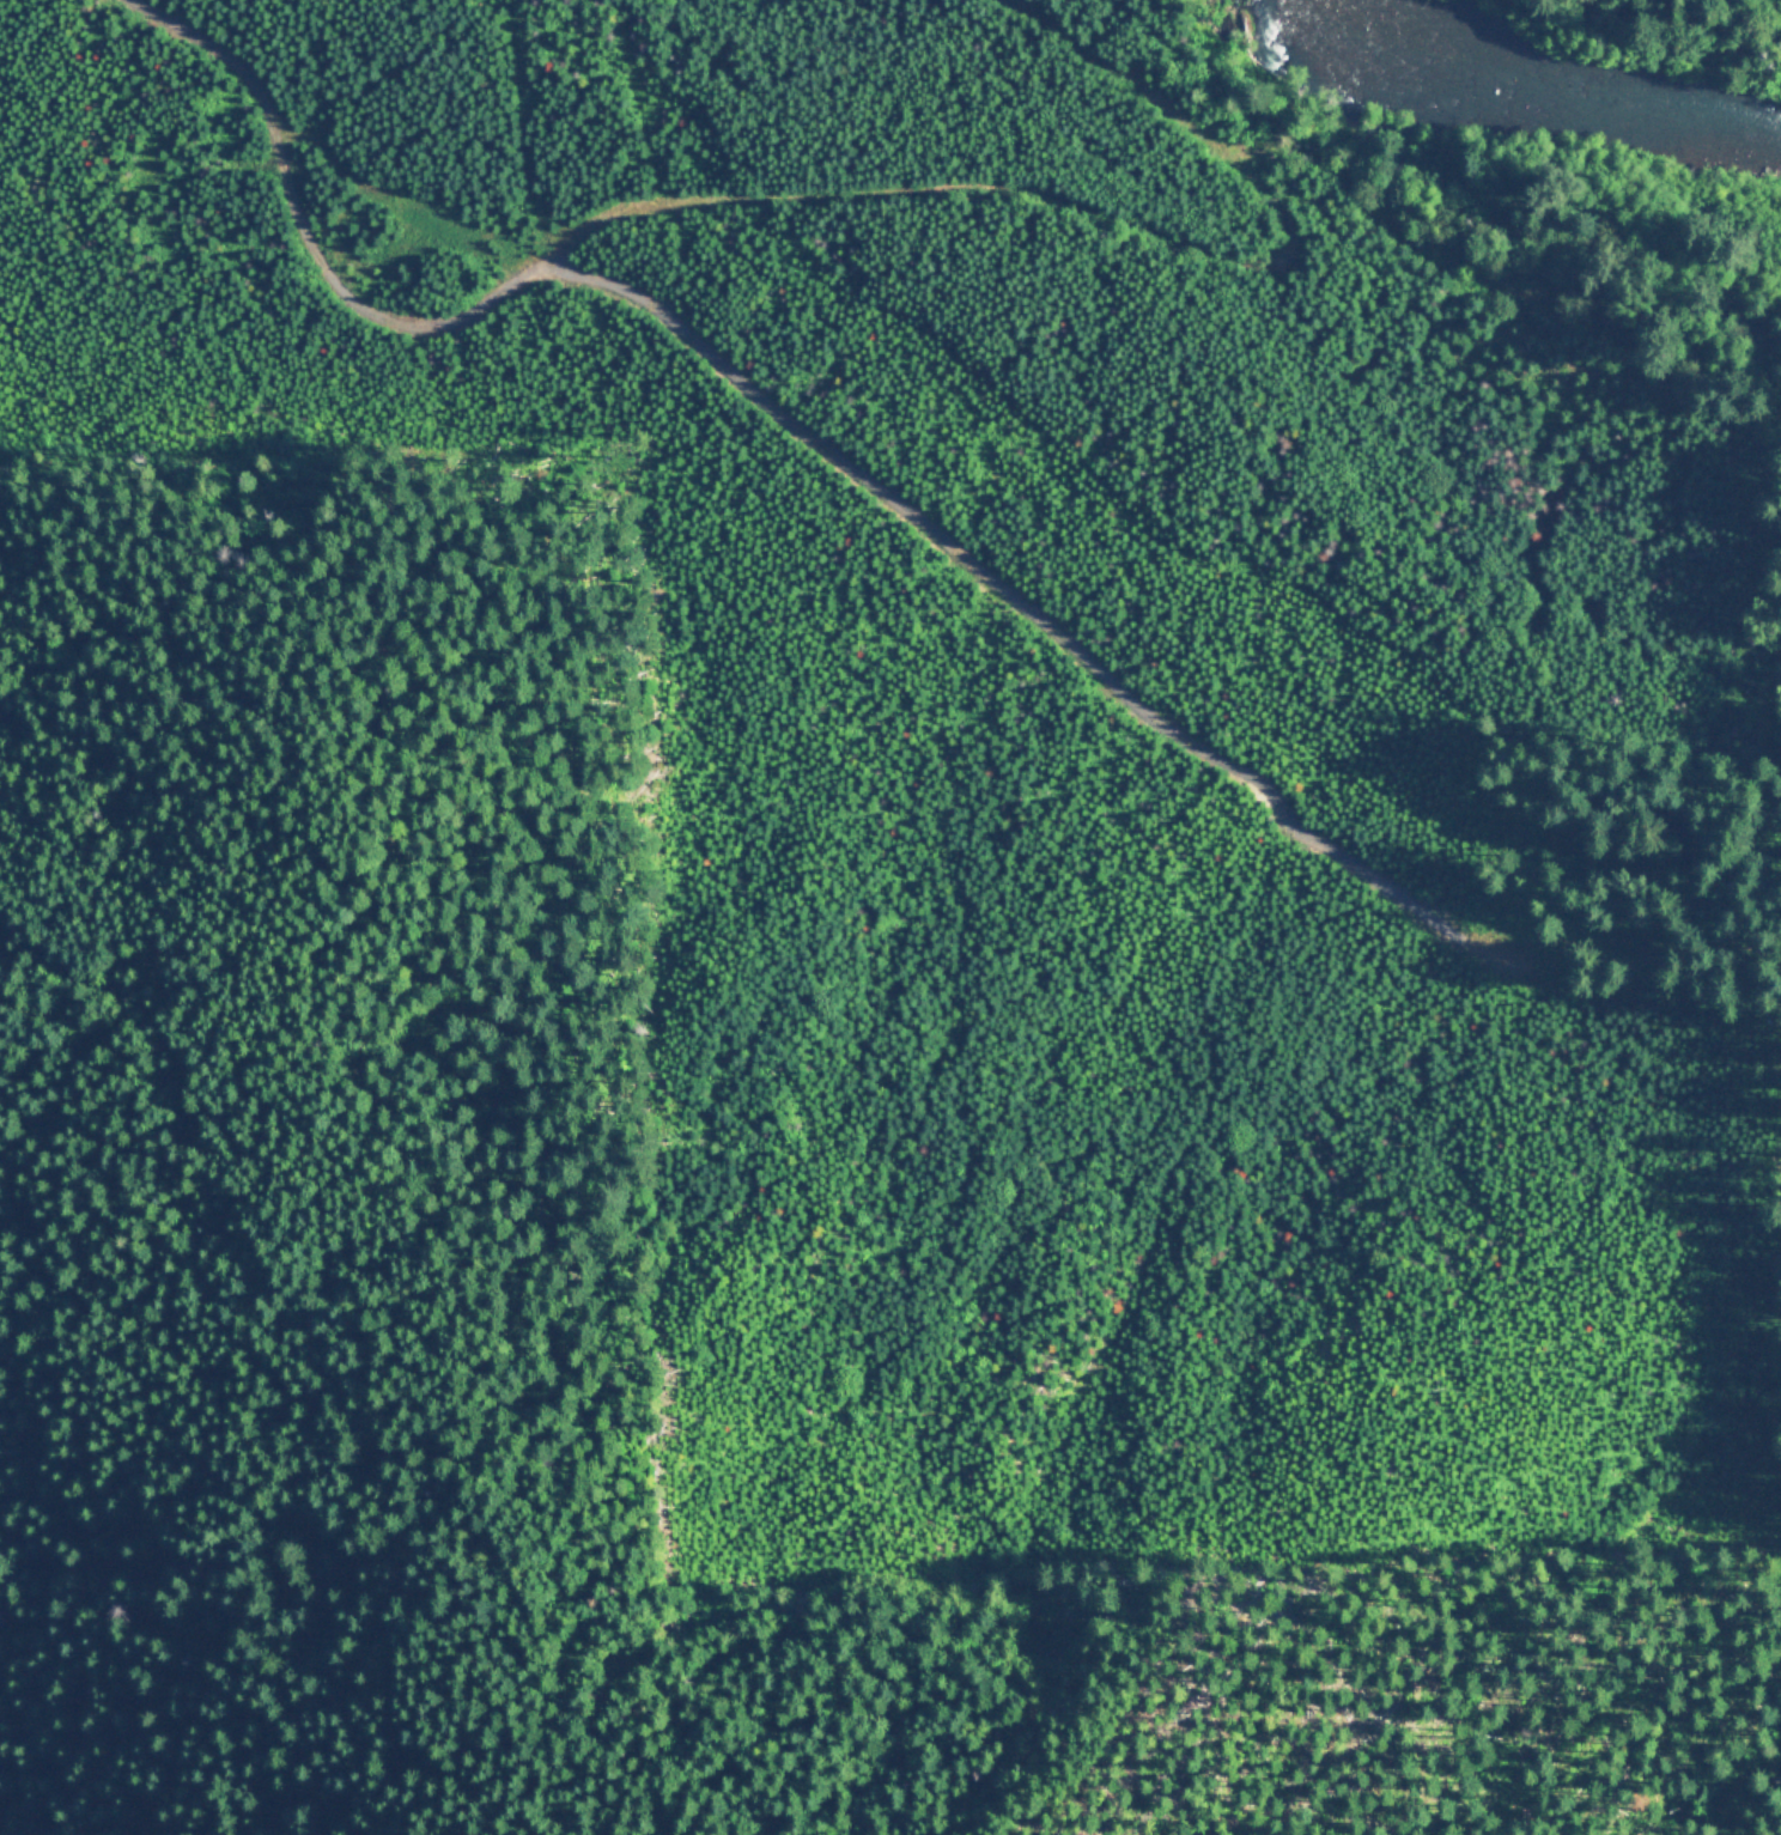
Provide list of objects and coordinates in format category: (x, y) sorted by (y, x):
river: (1539, 96)

